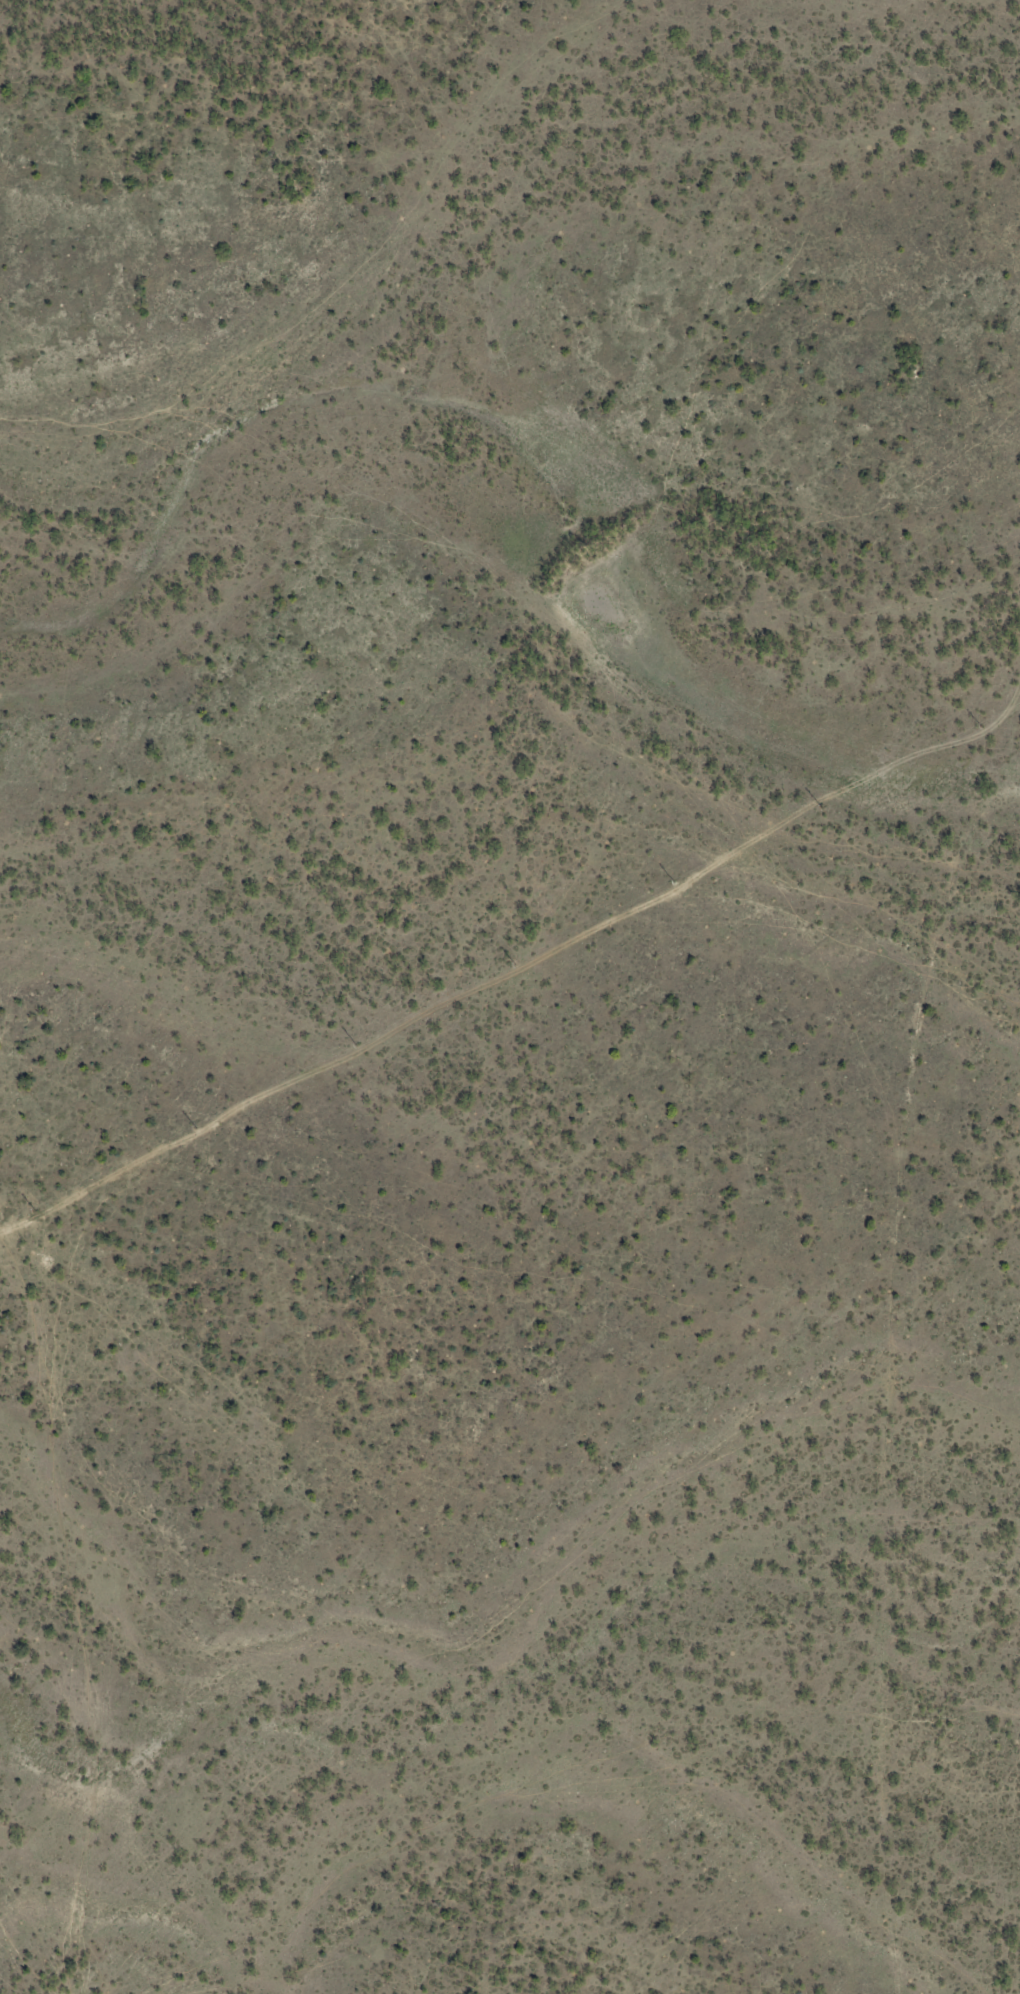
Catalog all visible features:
road: (862, 1189)

